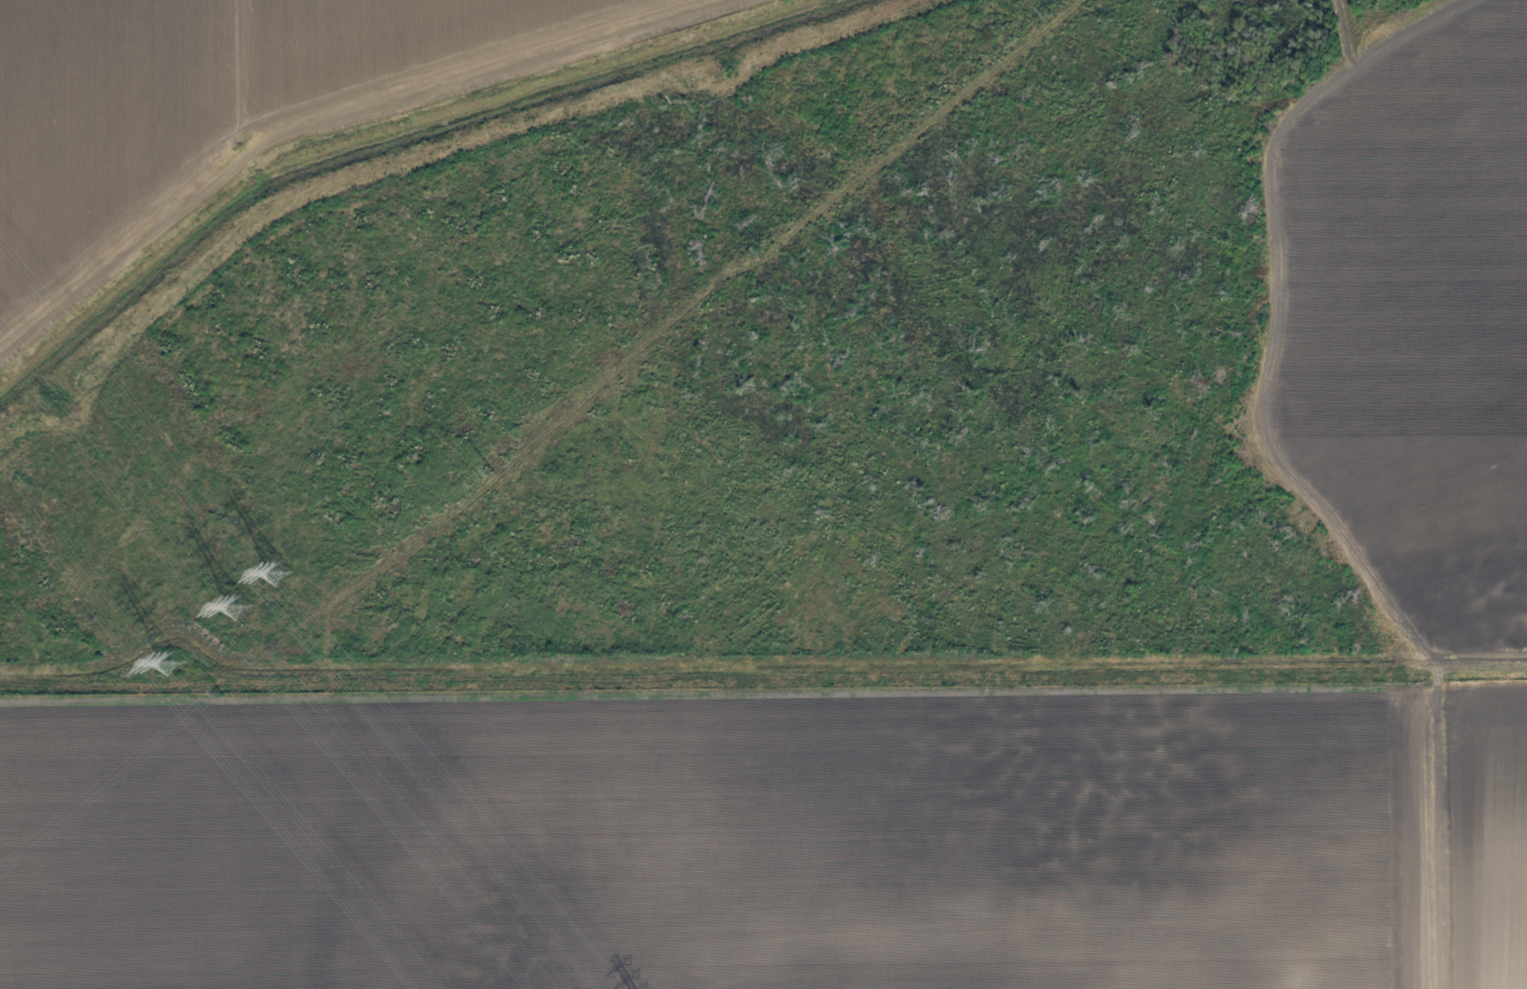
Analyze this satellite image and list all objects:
power tower: (1050, 13)
power tower: (762, 250)
power tower: (492, 470)
power tower: (279, 576)
power tower: (239, 609)
power tower: (172, 667)
power tower: (221, 694)

